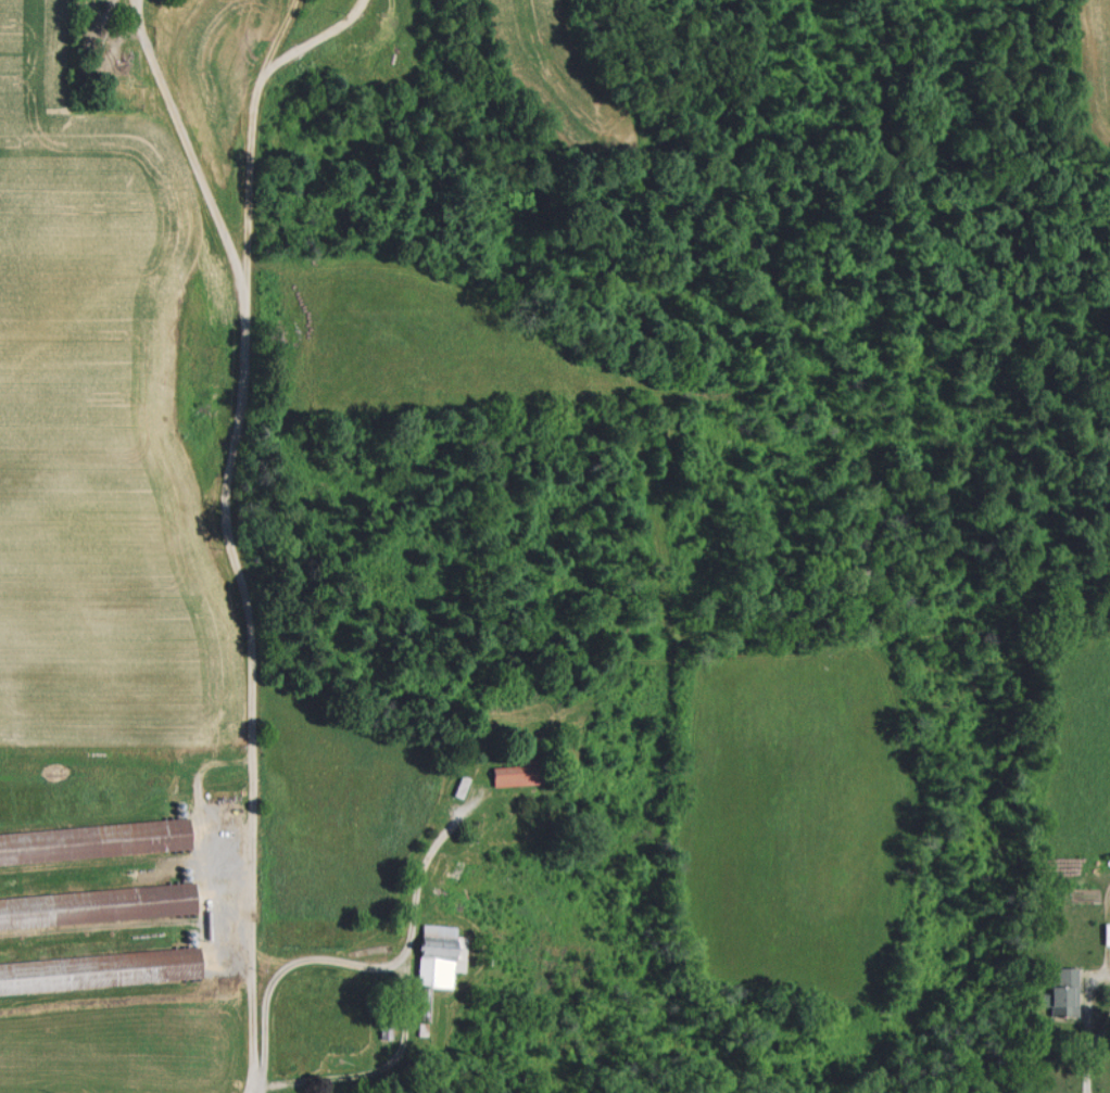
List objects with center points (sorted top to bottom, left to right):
building: (508, 776)
building: (160, 900)
building: (438, 954)
building: (1062, 992)

